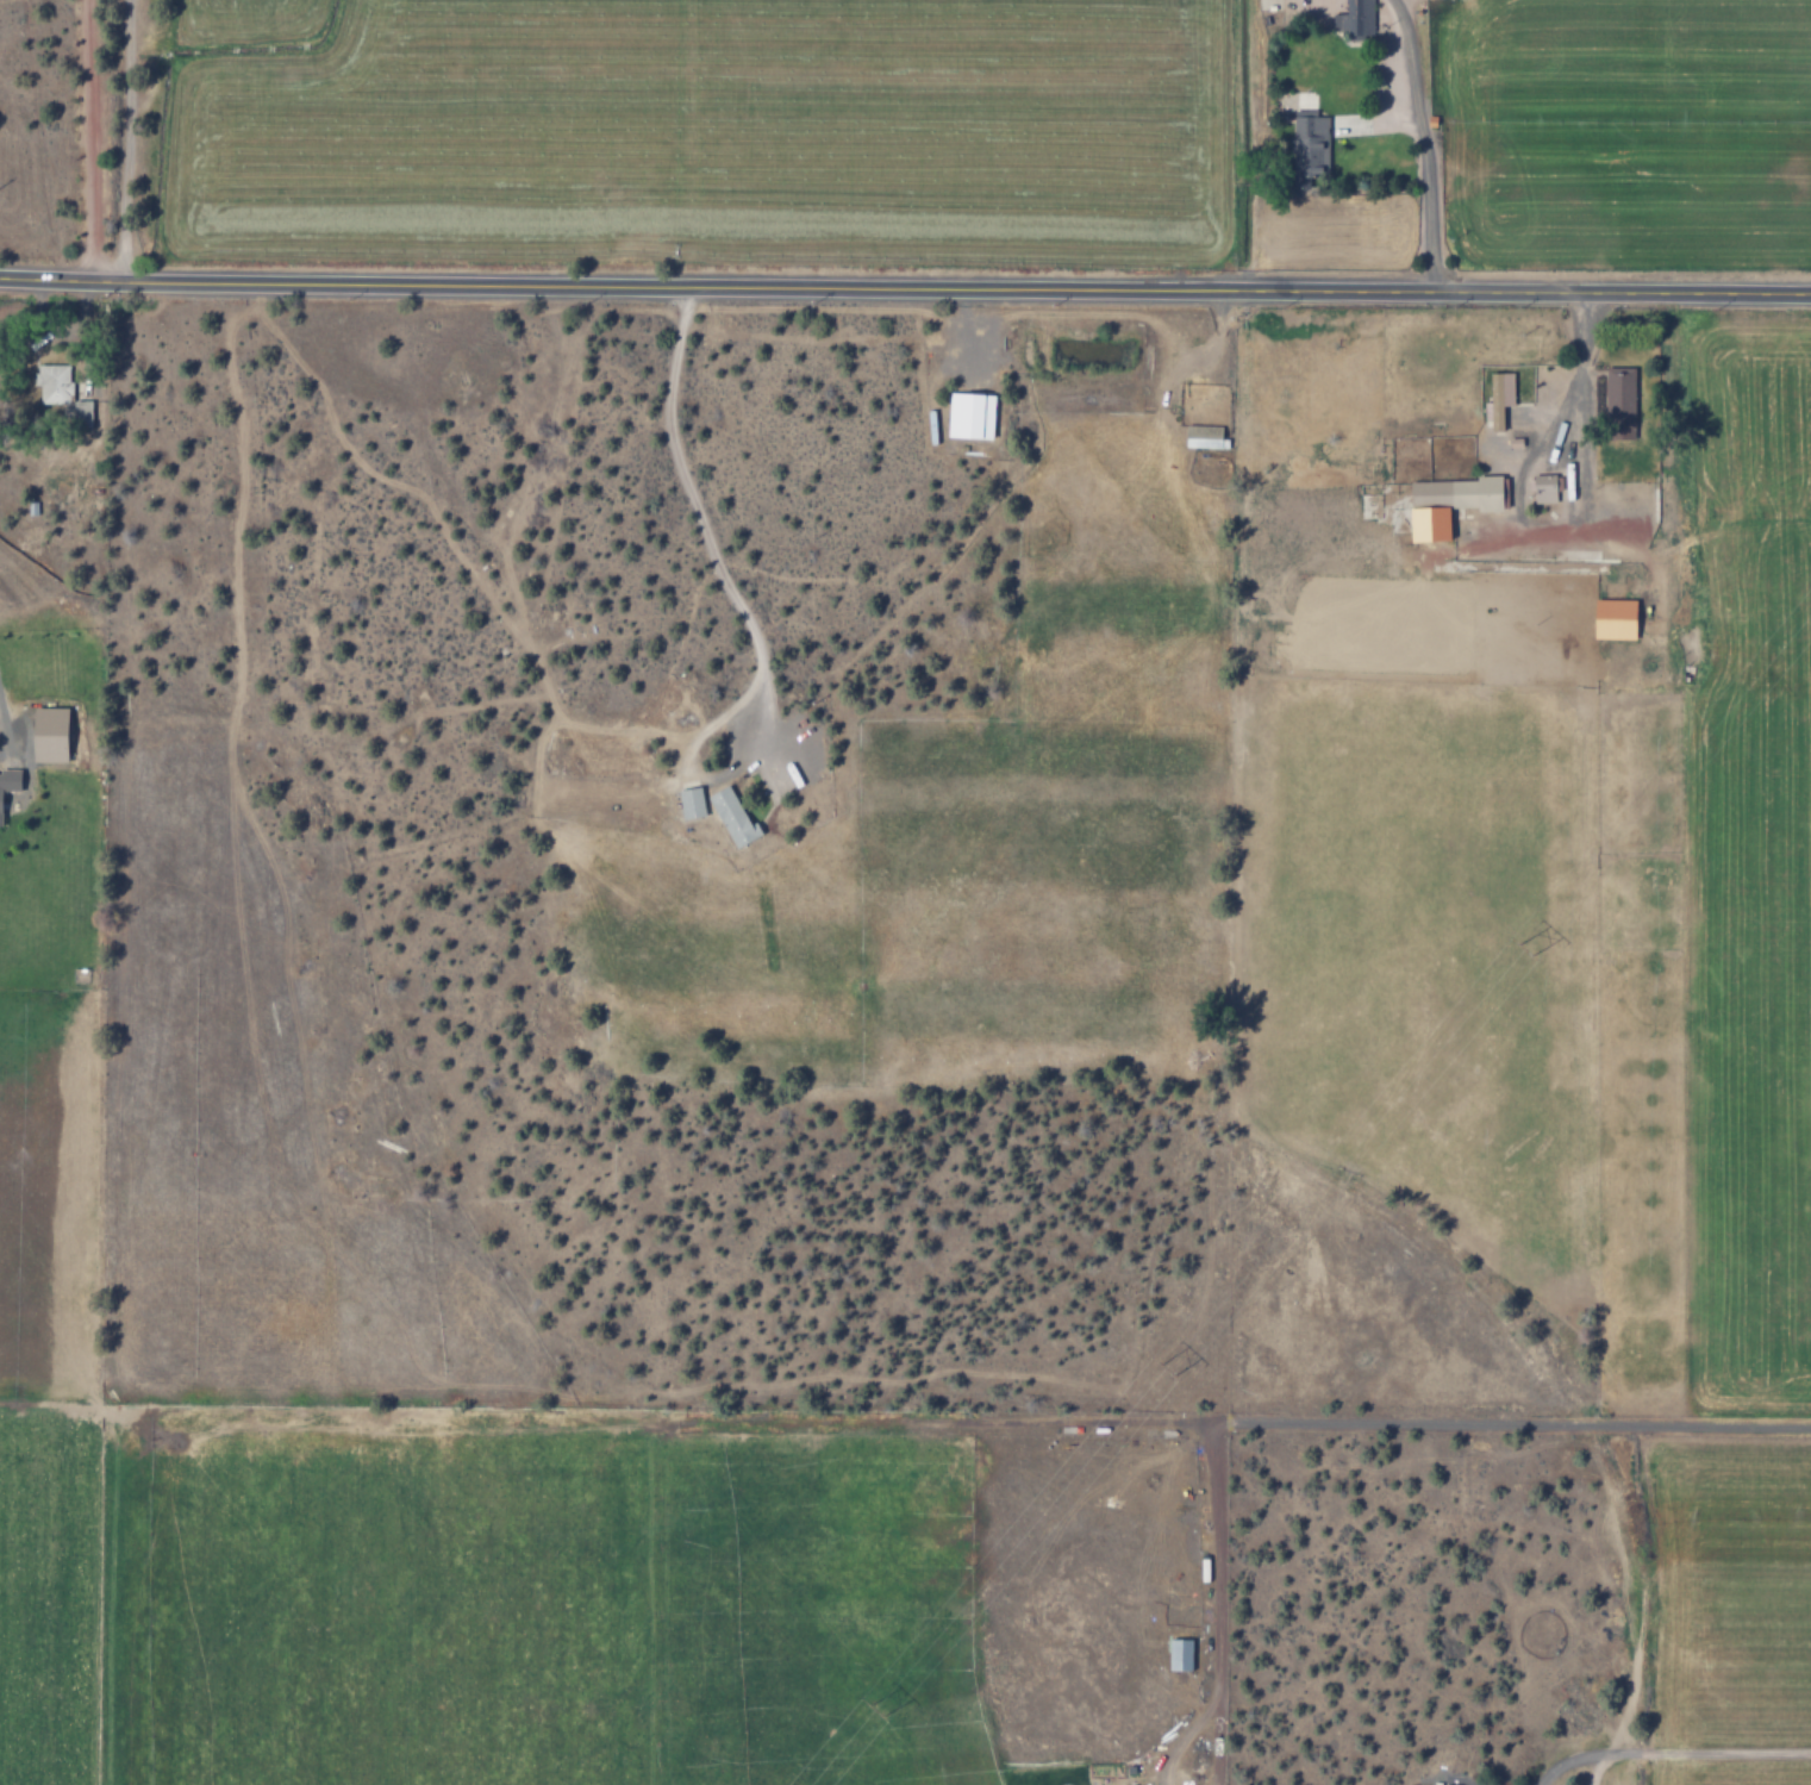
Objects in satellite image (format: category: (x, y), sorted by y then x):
building: (1354, 19)
crop: (968, 121)
road: (1416, 143)
building: (1307, 148)
road: (905, 287)
building: (51, 383)
building: (1498, 399)
building: (1618, 404)
building: (79, 412)
building: (968, 416)
building: (1203, 437)
building: (1543, 488)
building: (1445, 504)
building: (1612, 619)
road: (751, 631)
building: (46, 735)
building: (8, 780)
building: (688, 804)
building: (731, 818)
crop: (1193, 834)
power tower: (1529, 948)
crop: (1723, 1051)
power tower: (1167, 1371)
crop: (483, 1438)
building: (1179, 1655)
power tower: (876, 1709)

